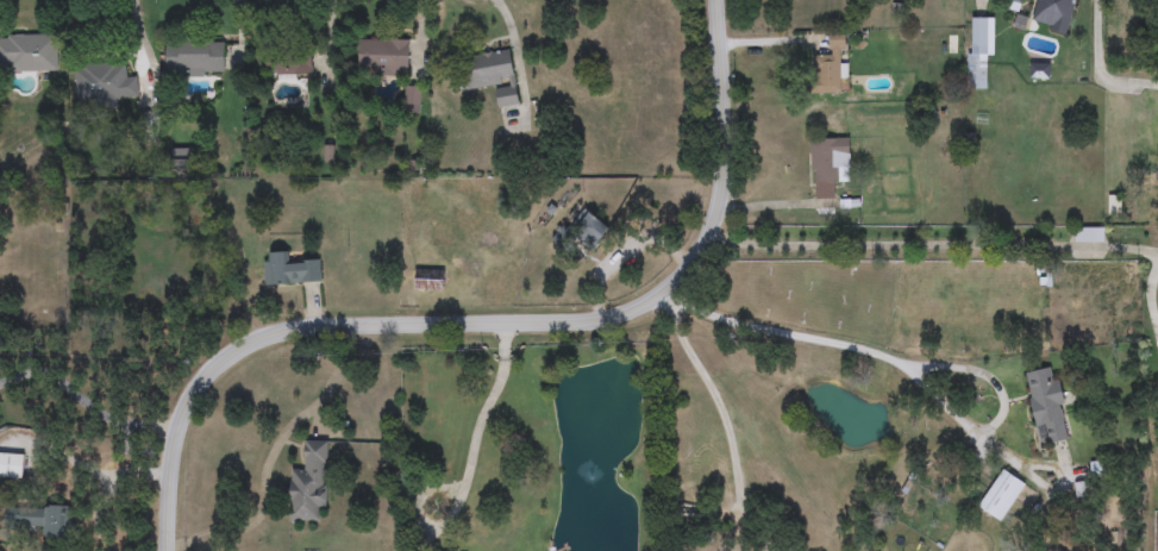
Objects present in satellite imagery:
building: (1053, 13)
road: (144, 51)
building: (29, 54)
building: (981, 54)
building: (194, 57)
building: (384, 57)
building: (288, 61)
building: (831, 67)
road: (1098, 68)
building: (487, 75)
building: (104, 83)
building: (413, 95)
building: (827, 167)
road: (774, 206)
building: (590, 227)
building: (1089, 234)
building: (562, 237)
building: (290, 271)
building: (430, 280)
road: (496, 324)
road: (903, 368)
building: (1047, 405)
road: (86, 406)
road: (724, 427)
road: (472, 444)
road: (271, 453)
building: (12, 465)
building: (309, 486)
road: (108, 490)
building: (1002, 496)
building: (40, 519)

